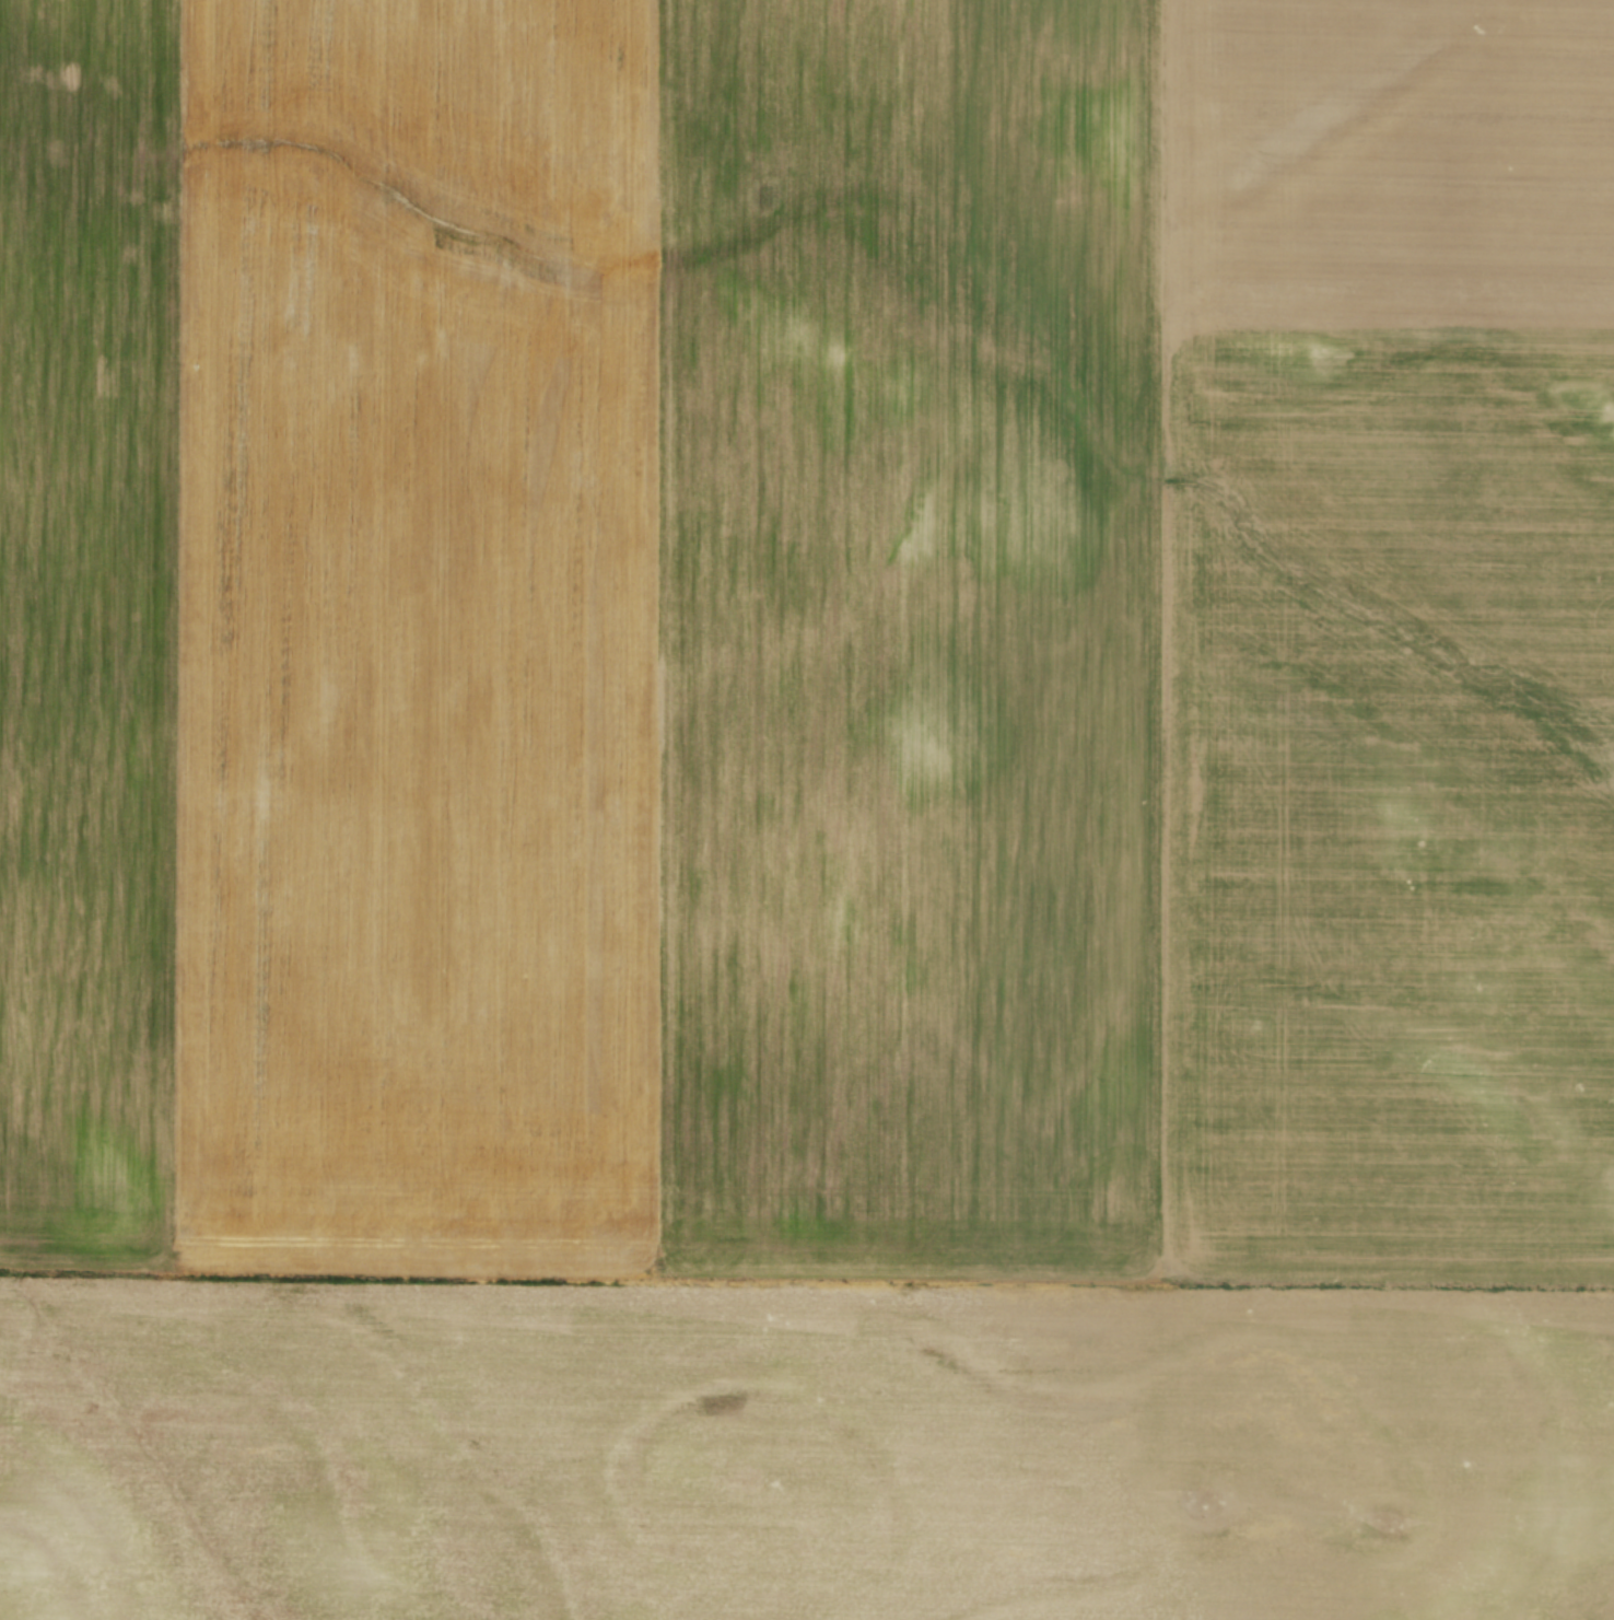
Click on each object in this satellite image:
crop: (807, 809)

